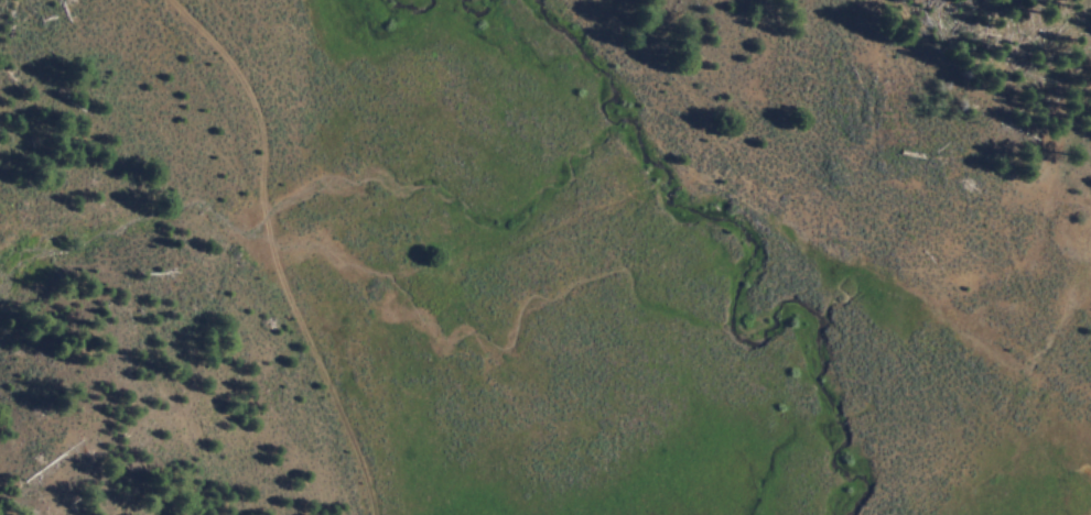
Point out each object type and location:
road: (240, 252)

